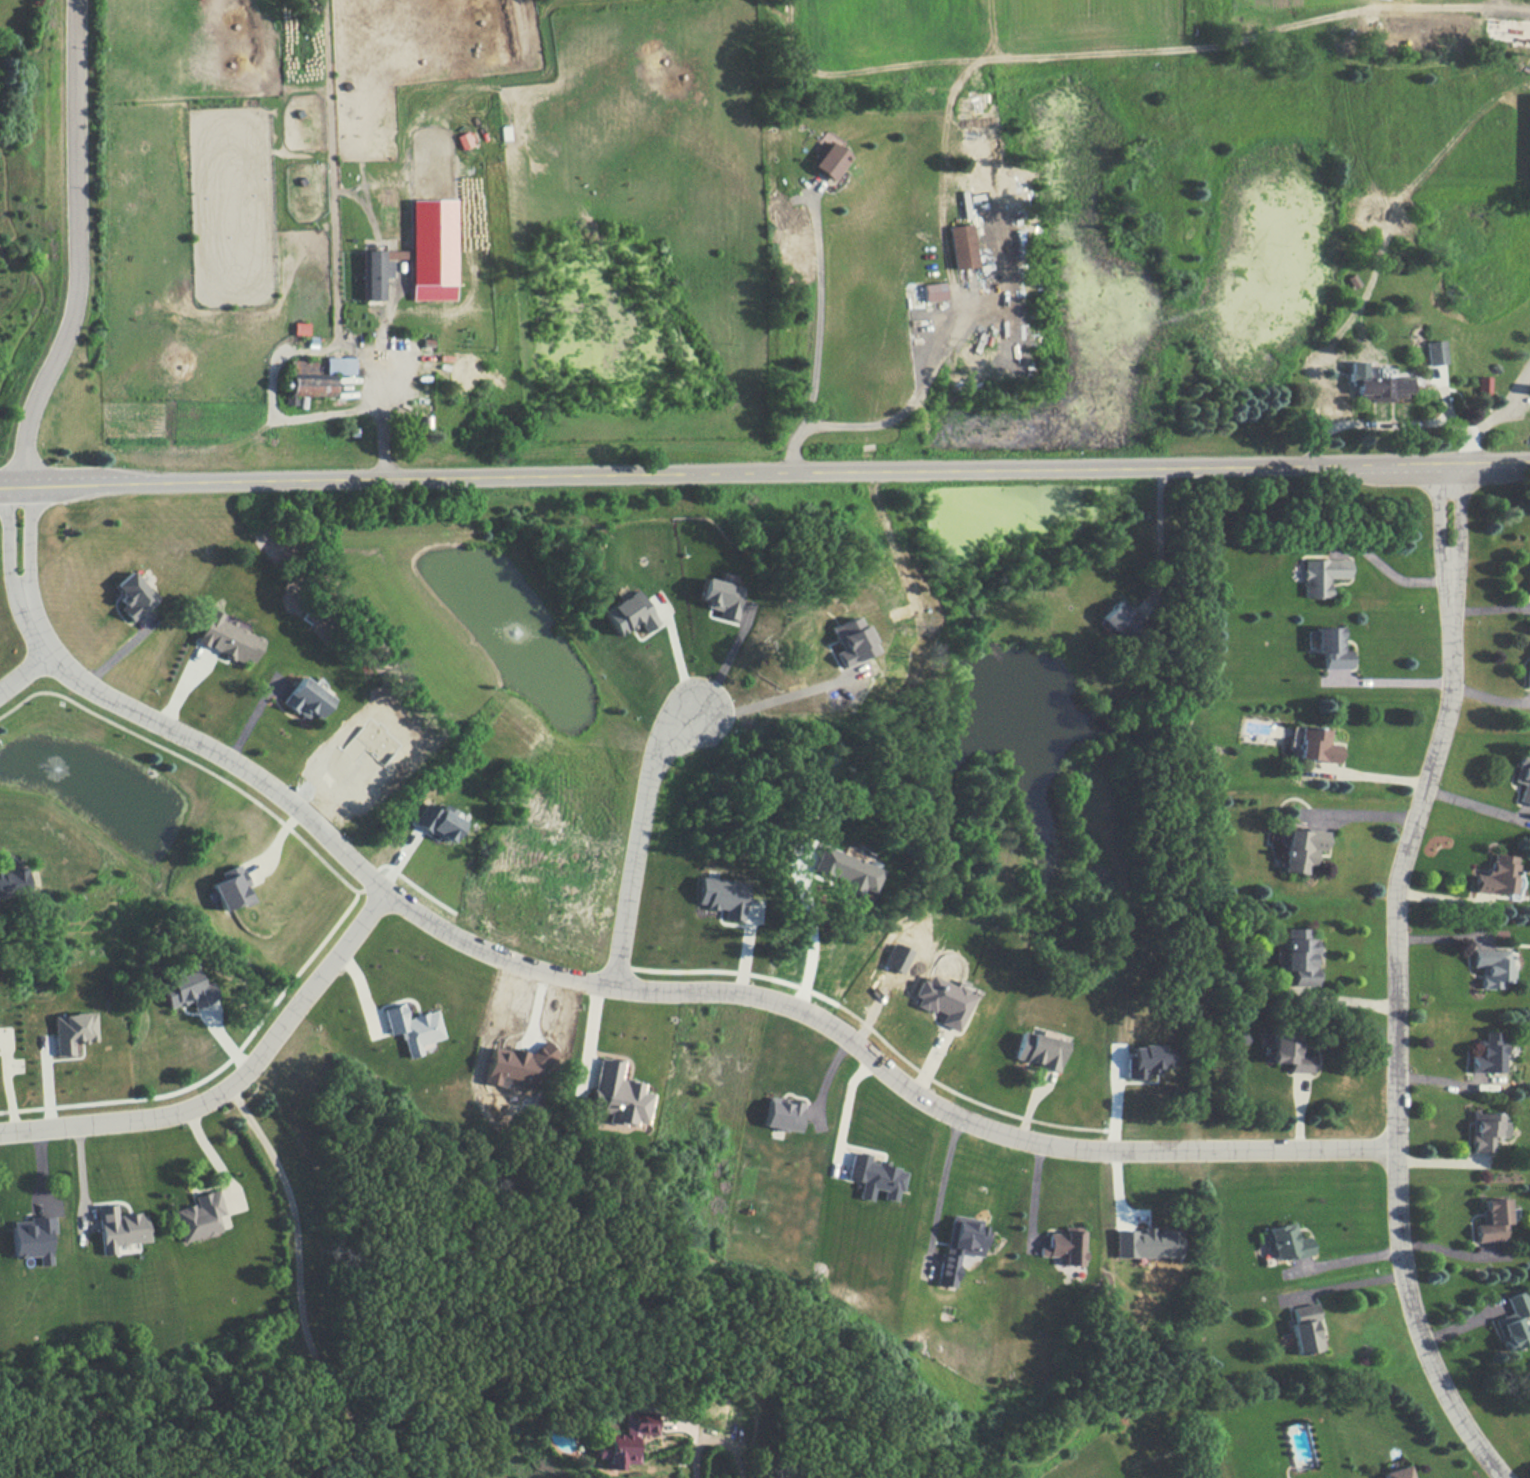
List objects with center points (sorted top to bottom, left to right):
building: (1528, 135)
building: (831, 159)
building: (963, 246)
road: (78, 248)
building: (432, 249)
building: (396, 254)
building: (376, 274)
building: (934, 292)
road: (817, 344)
building: (1434, 352)
building: (1356, 369)
road: (381, 385)
building: (1484, 385)
building: (1383, 387)
road: (912, 401)
road: (1494, 415)
road: (1377, 423)
road: (765, 474)
road: (1438, 517)
road: (1462, 518)
road: (1160, 536)
road: (32, 541)
road: (7, 542)
road: (1391, 572)
building: (1322, 575)
building: (132, 596)
building: (721, 597)
building: (630, 613)
building: (1121, 619)
building: (227, 638)
building: (850, 641)
building: (1331, 647)
road: (23, 670)
road: (1400, 683)
building: (305, 698)
road: (765, 701)
building: (1316, 745)
road: (194, 764)
road: (1370, 775)
building: (1523, 776)
road: (1478, 806)
road: (1361, 813)
building: (437, 821)
road: (635, 839)
building: (1301, 849)
building: (846, 870)
building: (1498, 875)
building: (12, 880)
building: (232, 888)
road: (376, 889)
building: (721, 896)
road: (810, 928)
building: (1299, 957)
building: (896, 958)
building: (1492, 967)
building: (186, 990)
road: (661, 990)
road: (1345, 999)
building: (944, 1000)
building: (413, 1028)
building: (71, 1031)
road: (1398, 1033)
building: (1039, 1050)
building: (1289, 1052)
building: (1488, 1053)
building: (1148, 1060)
building: (518, 1066)
road: (239, 1086)
building: (619, 1095)
building: (786, 1113)
building: (1486, 1130)
building: (878, 1176)
road: (947, 1187)
road: (1036, 1196)
building: (199, 1216)
building: (1492, 1220)
building: (119, 1228)
building: (32, 1238)
building: (1288, 1242)
building: (1146, 1243)
building: (964, 1246)
building: (1066, 1246)
road: (1341, 1262)
road: (299, 1286)
road: (1340, 1286)
building: (1513, 1322)
building: (1304, 1328)
building: (627, 1439)
road: (715, 1439)
building: (1395, 1472)

